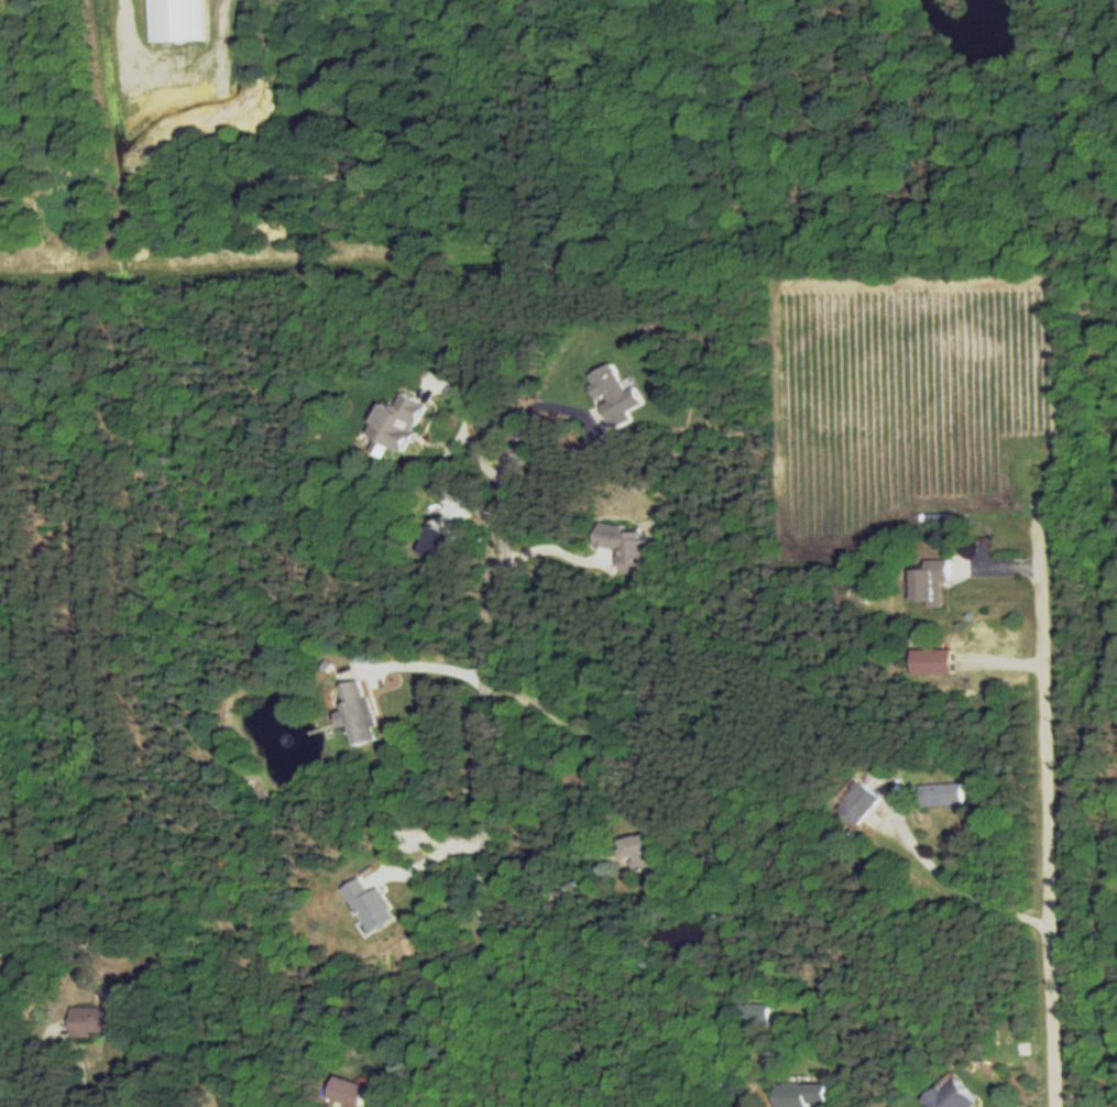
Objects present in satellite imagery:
building: (175, 21)
road: (222, 41)
building: (616, 396)
building: (397, 425)
road: (479, 442)
building: (436, 538)
building: (627, 547)
building: (932, 582)
road: (431, 662)
building: (933, 662)
building: (358, 713)
road: (594, 737)
road: (490, 770)
building: (942, 796)
building: (861, 804)
road: (1053, 809)
building: (644, 852)
road: (971, 890)
building: (371, 906)
building: (759, 1016)
building: (94, 1021)
building: (350, 1092)
road: (74, 1093)
building: (803, 1095)
building: (952, 1097)

